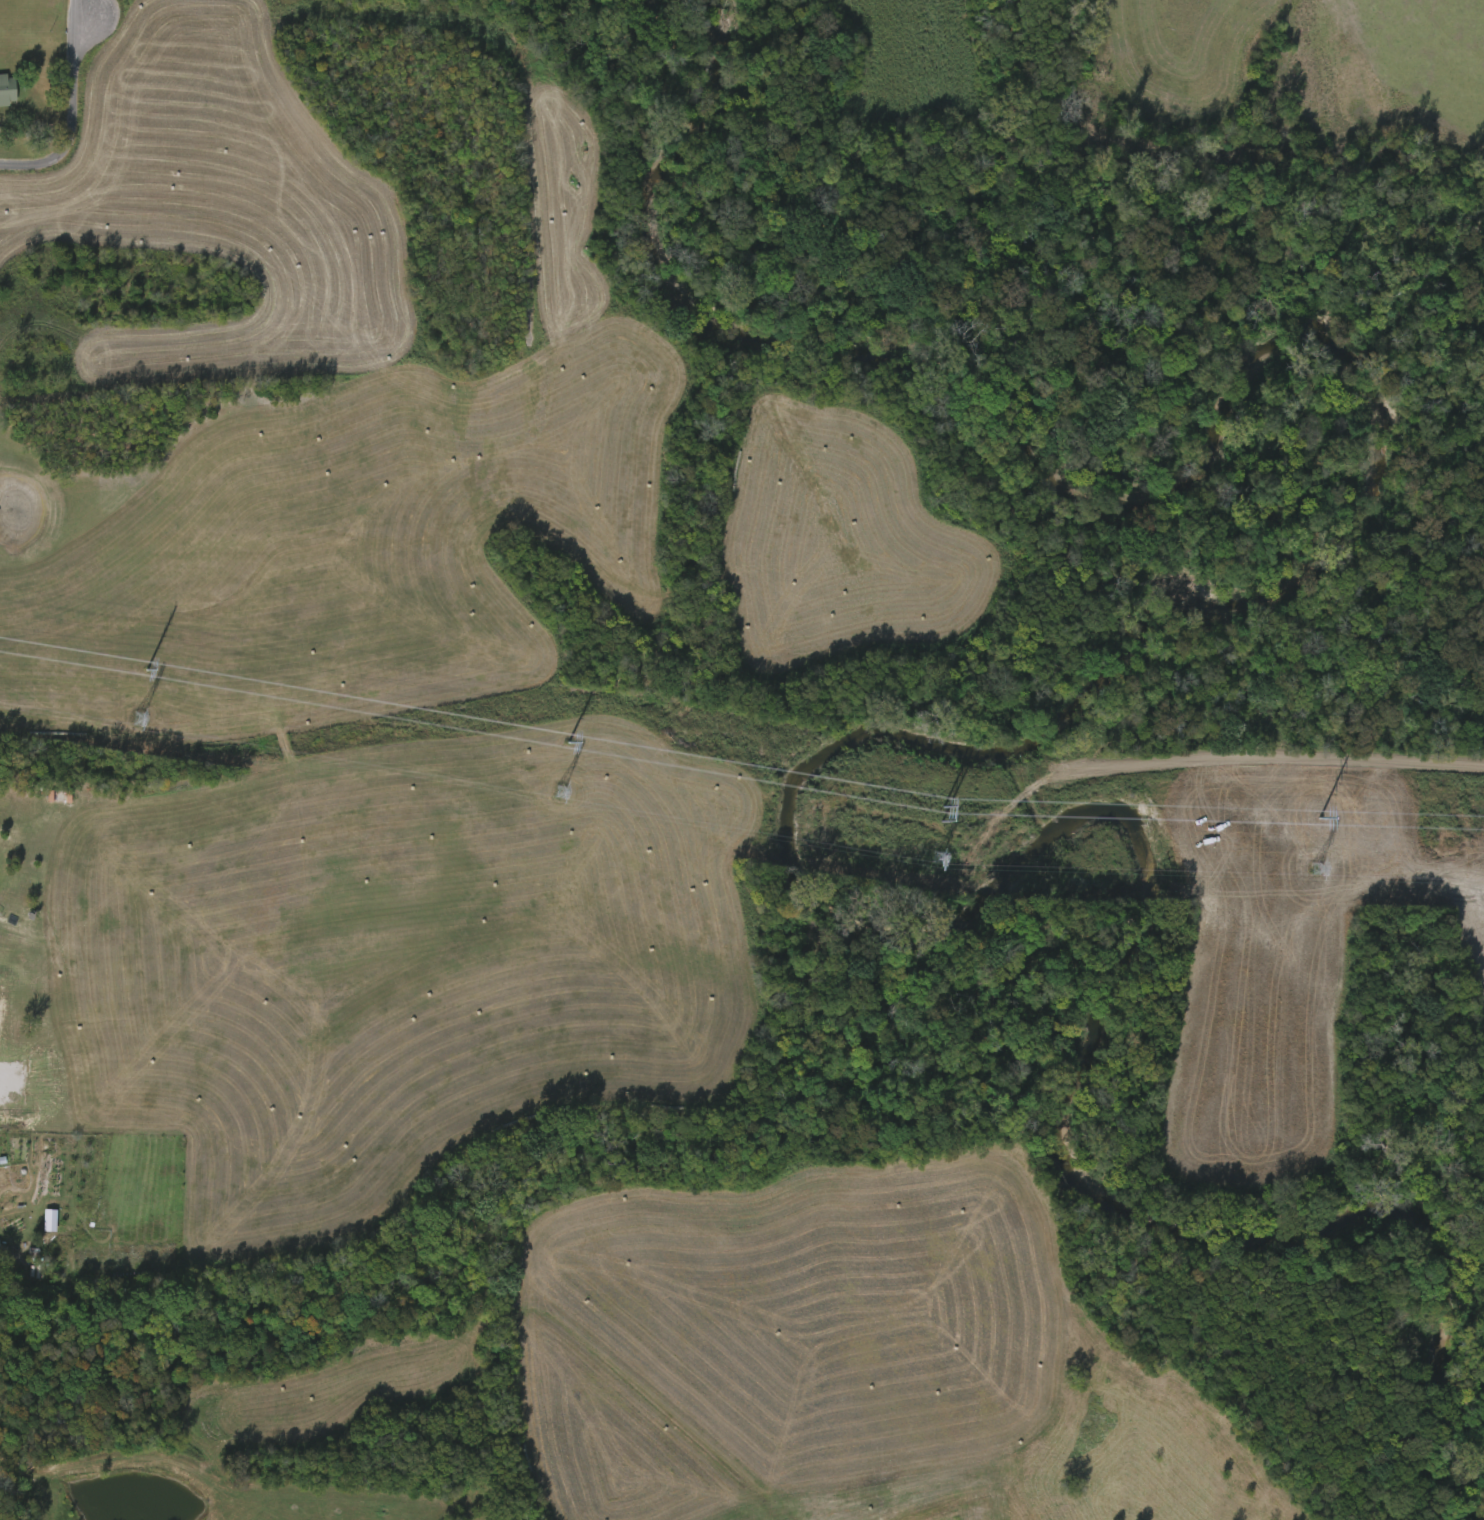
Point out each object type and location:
building: (7, 92)
road: (69, 116)
power tower: (146, 670)
power tower: (568, 743)
river: (1023, 745)
road: (1276, 760)
power tower: (944, 807)
power tower: (1319, 819)
river: (1325, 1230)

